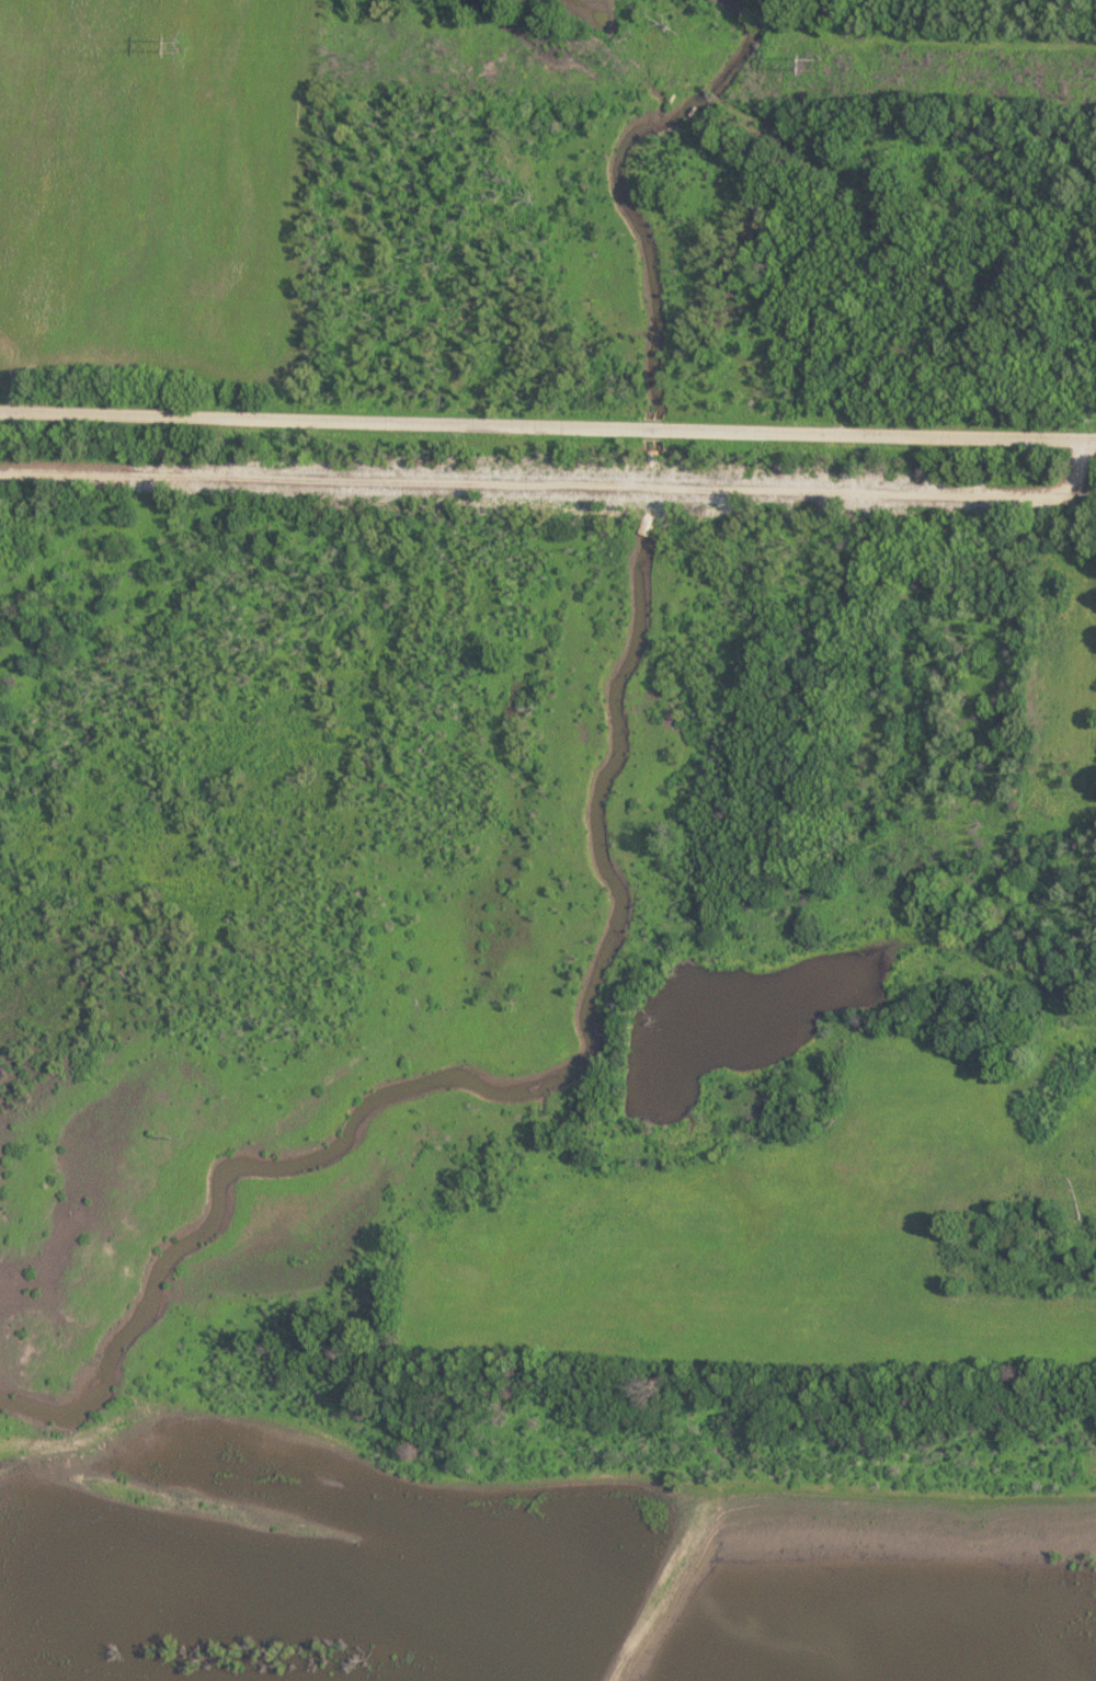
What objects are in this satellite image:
power tower: (179, 47)
power tower: (830, 68)
crop: (158, 199)
road: (548, 426)
crop: (769, 1245)

